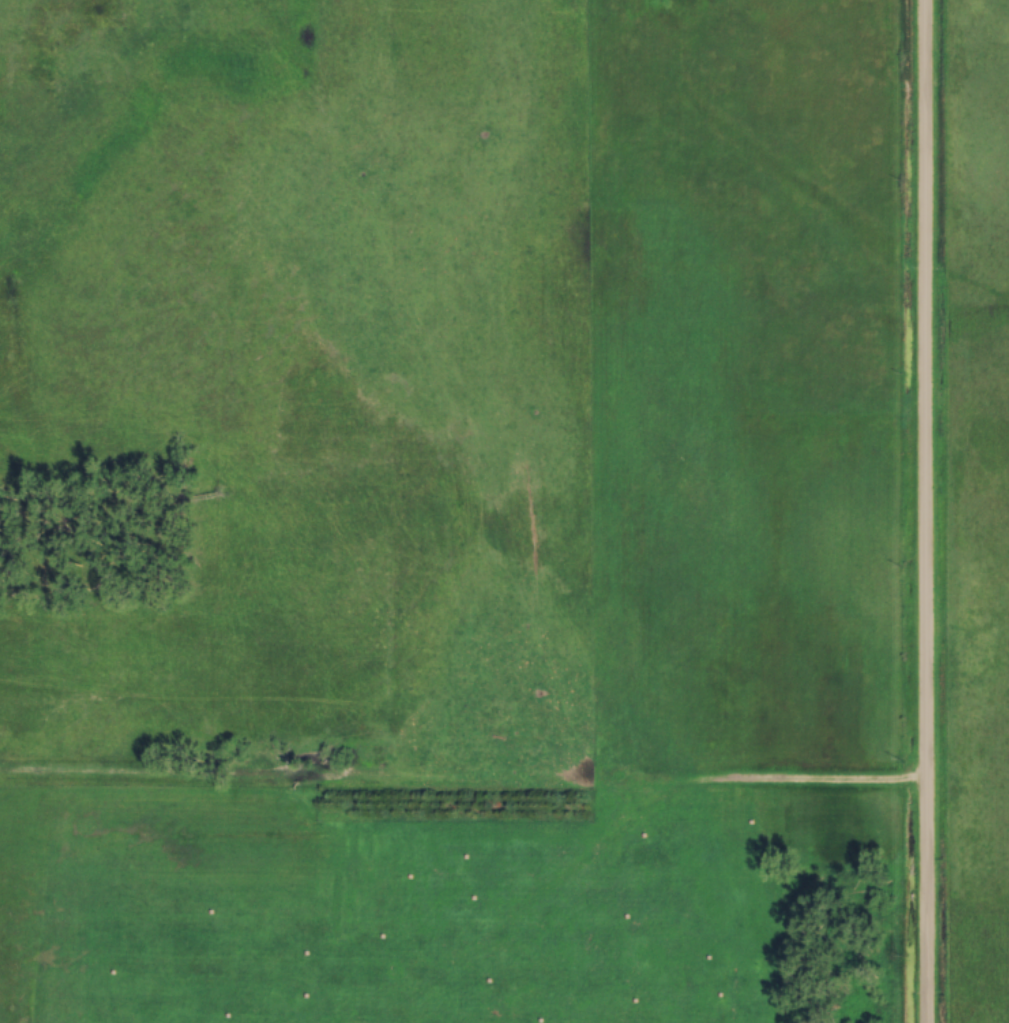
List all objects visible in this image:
road: (924, 511)

